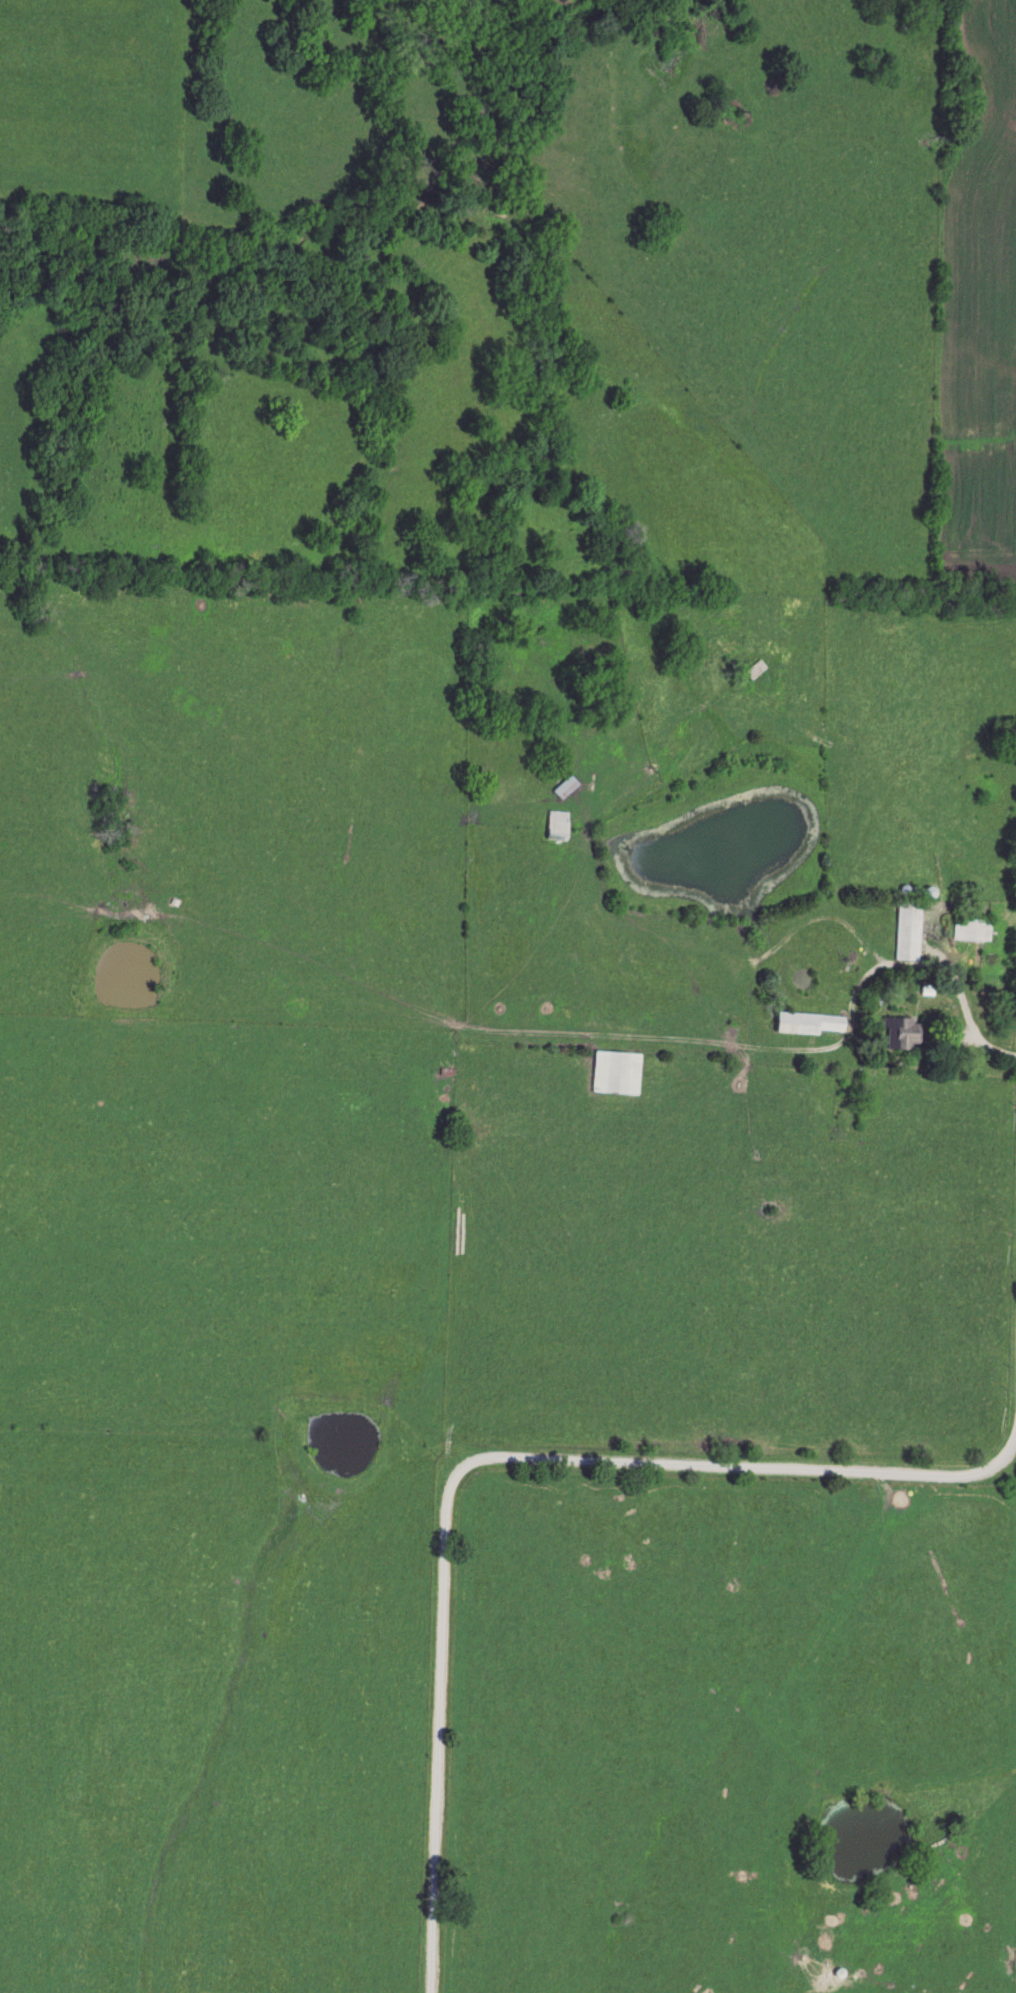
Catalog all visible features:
building: (756, 670)
building: (565, 788)
building: (557, 823)
building: (906, 930)
building: (971, 930)
building: (808, 1024)
building: (903, 1033)
building: (617, 1073)
road: (557, 1464)

